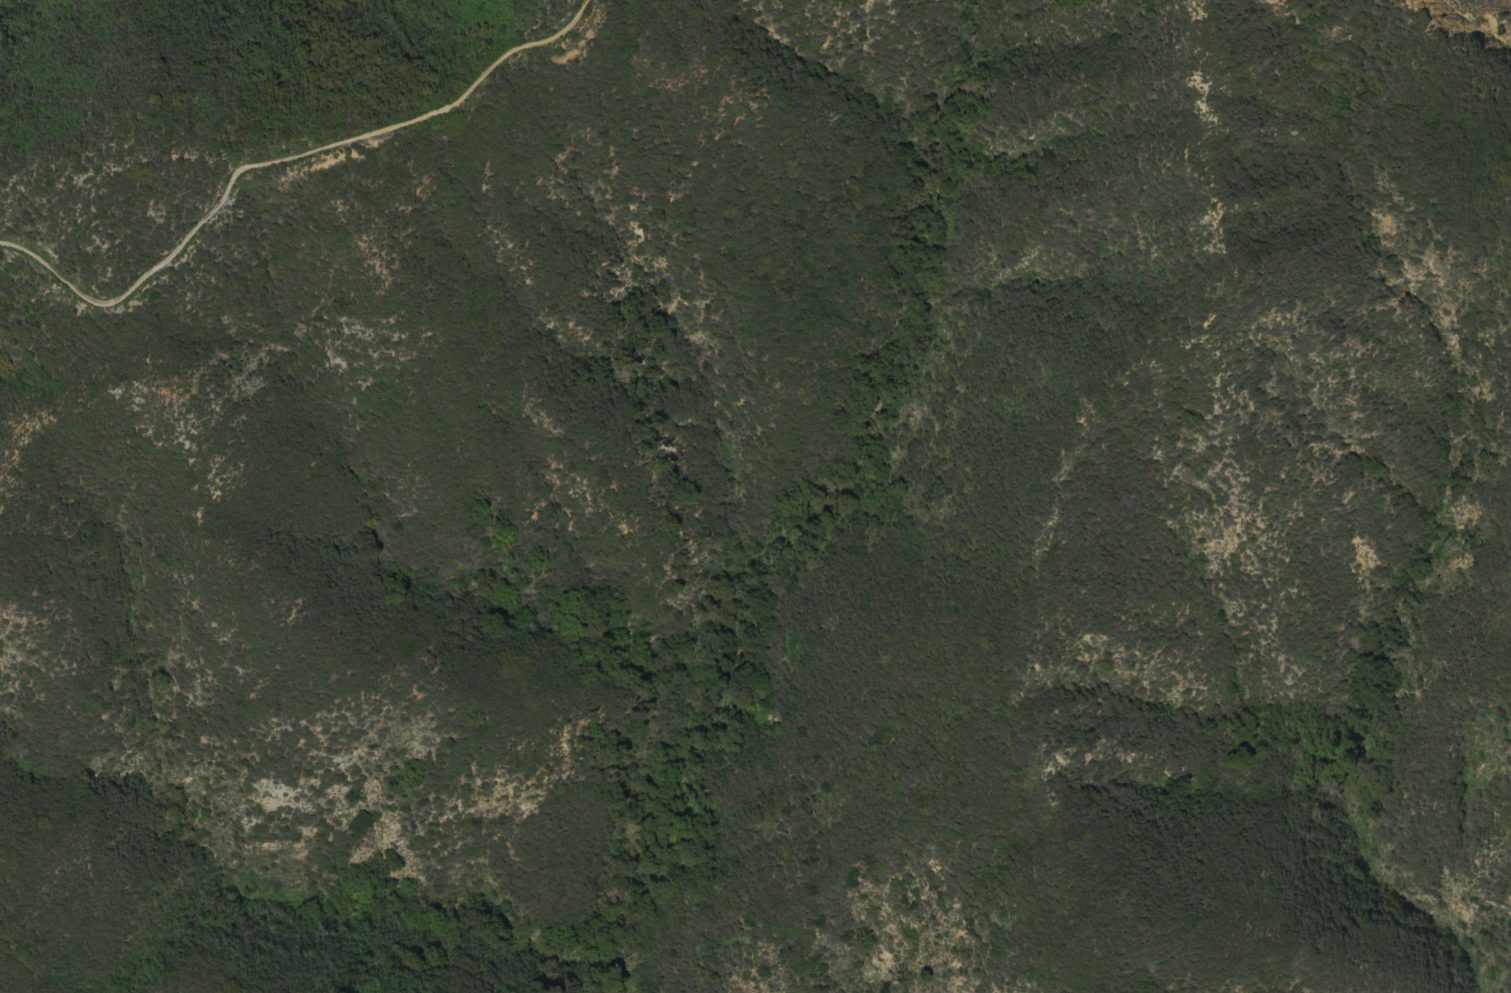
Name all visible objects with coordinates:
road: (278, 156)

